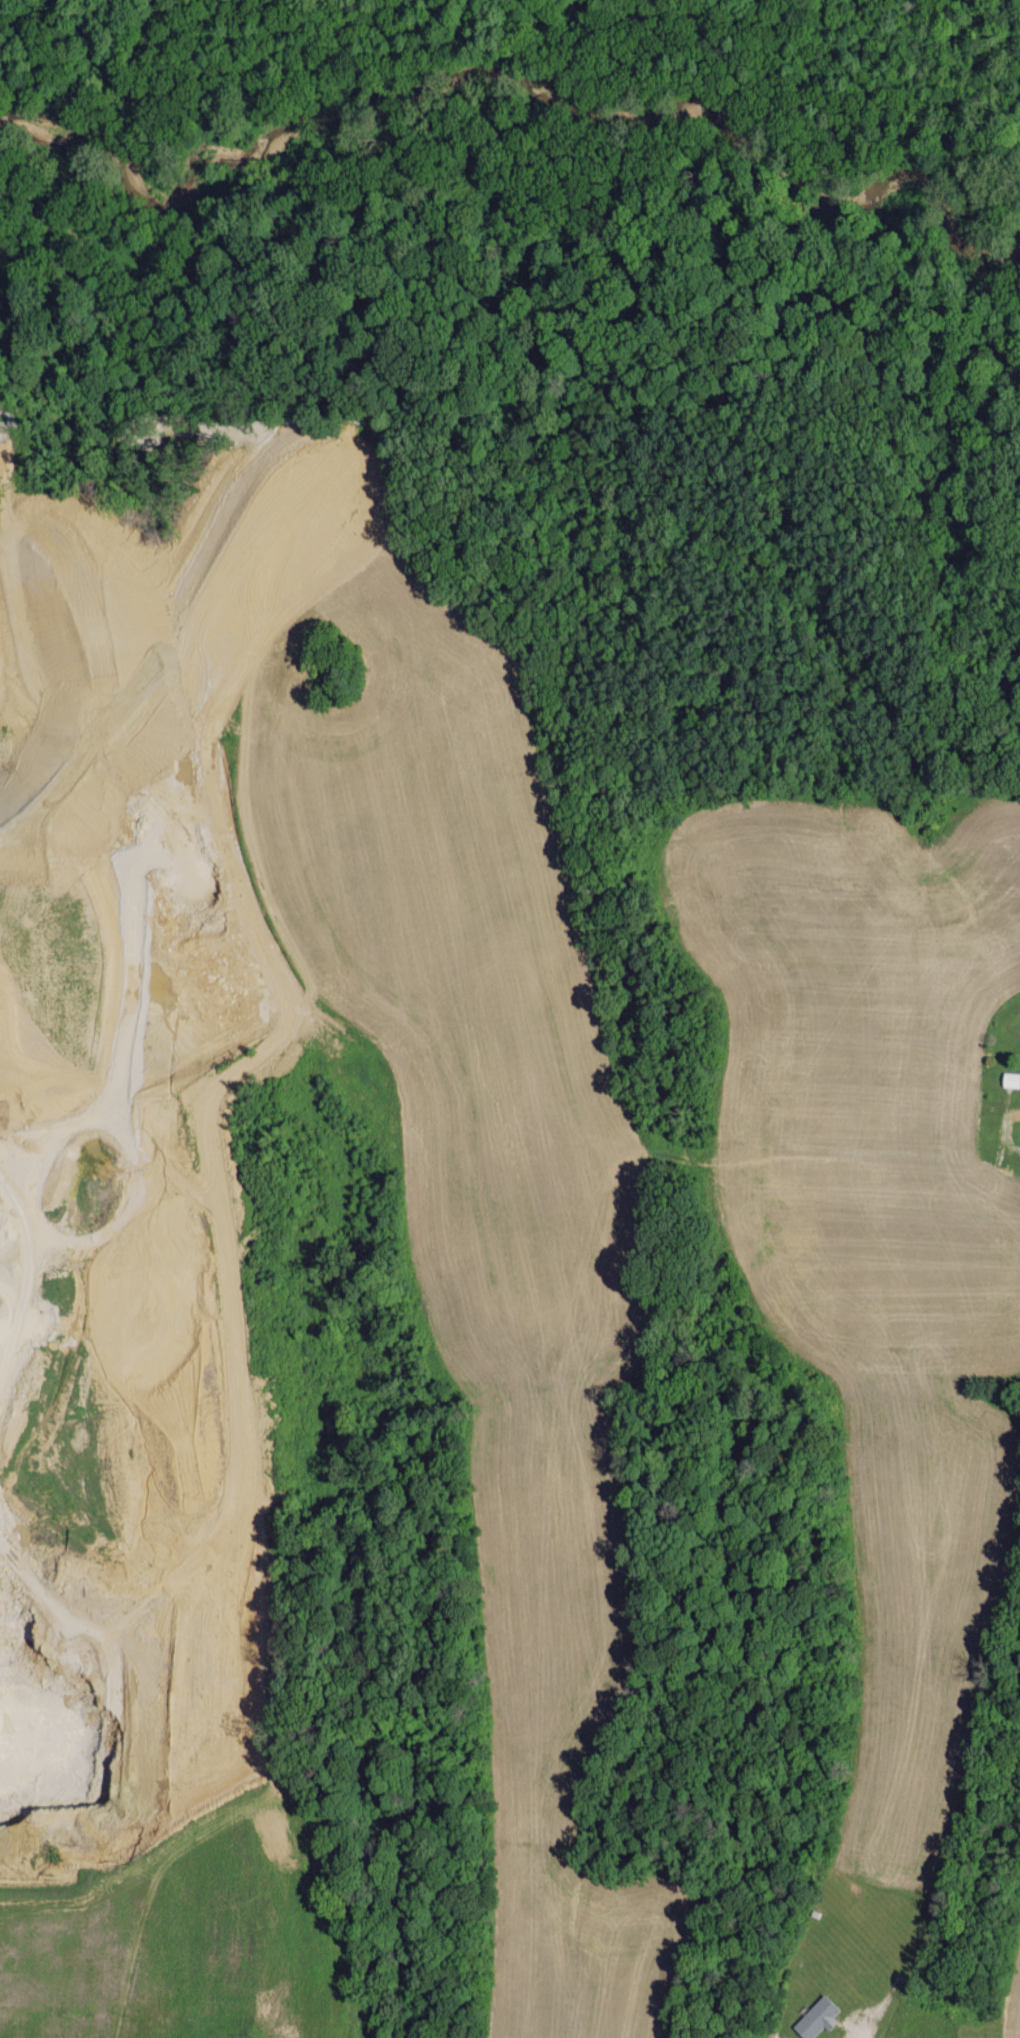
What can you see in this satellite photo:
building: (1009, 1078)
building: (815, 2017)

